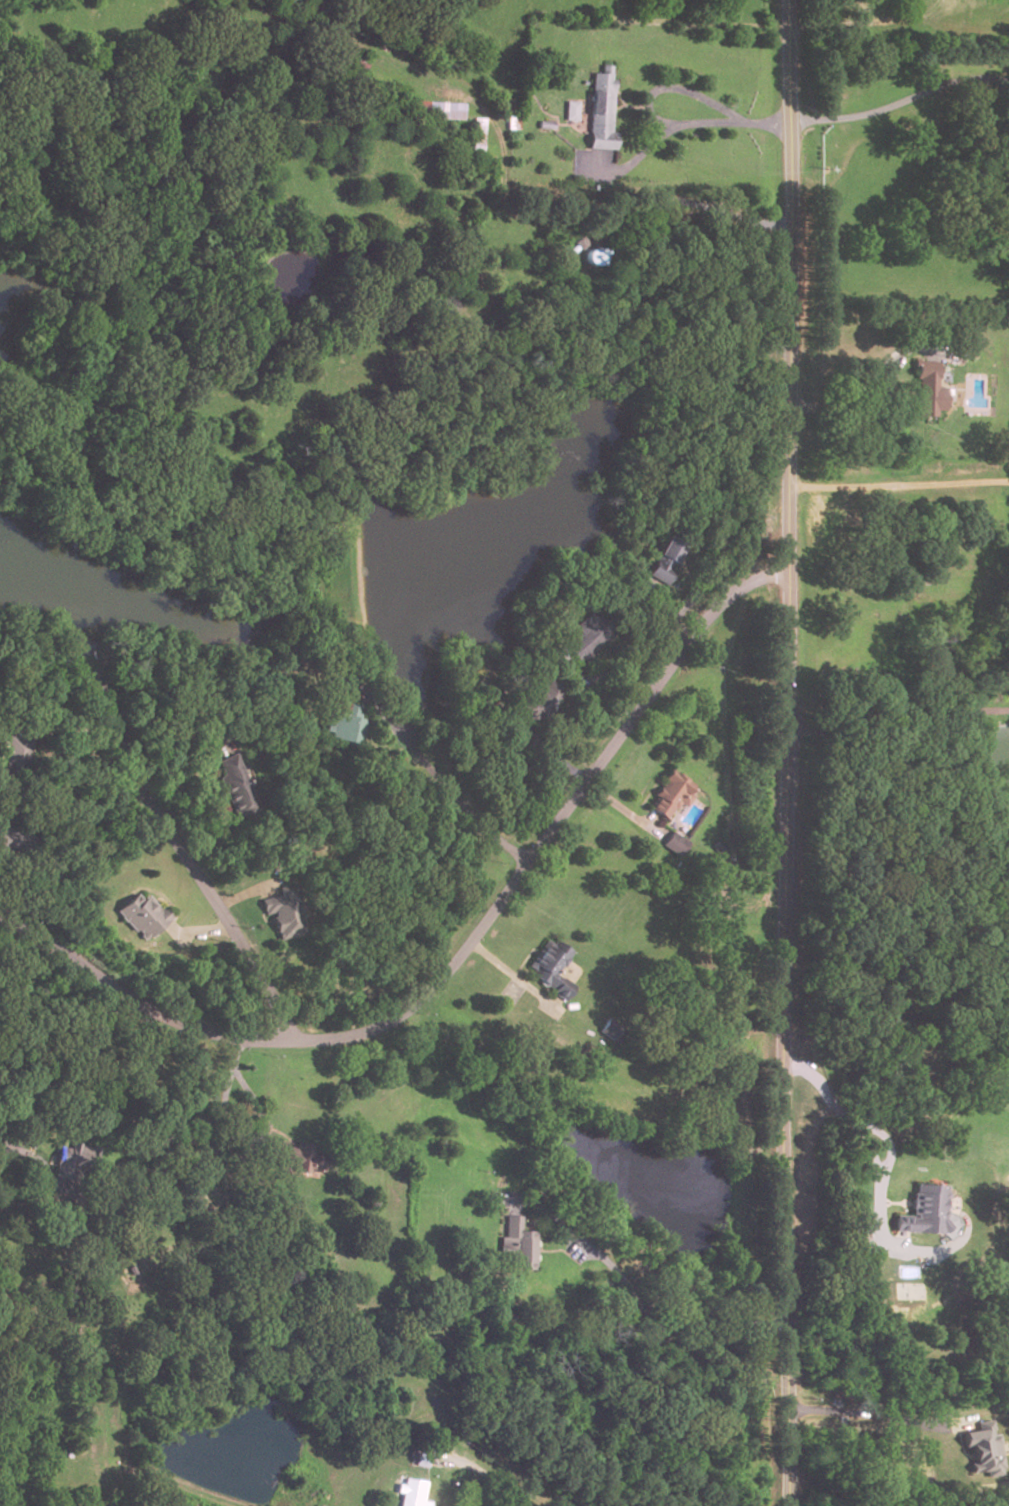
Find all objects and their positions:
building: (359, 63)
road: (673, 90)
road: (900, 103)
road: (628, 107)
road: (617, 108)
building: (431, 111)
building: (567, 113)
building: (596, 113)
building: (509, 124)
road: (676, 126)
building: (542, 127)
building: (473, 140)
building: (926, 389)
road: (863, 401)
road: (899, 478)
building: (663, 561)
road: (688, 604)
building: (587, 637)
road: (615, 667)
building: (345, 672)
building: (540, 699)
building: (343, 728)
road: (65, 729)
road: (787, 753)
building: (20, 755)
road: (902, 772)
road: (444, 782)
building: (238, 786)
building: (668, 792)
road: (619, 808)
building: (19, 837)
building: (671, 844)
road: (191, 869)
road: (244, 894)
road: (259, 908)
building: (288, 911)
building: (147, 916)
road: (200, 931)
road: (457, 957)
road: (522, 962)
building: (547, 967)
road: (510, 975)
parking lot: (510, 992)
building: (607, 1029)
road: (267, 1131)
road: (163, 1143)
road: (888, 1145)
road: (36, 1155)
building: (305, 1158)
building: (73, 1161)
road: (878, 1191)
road: (893, 1204)
building: (922, 1212)
building: (516, 1246)
road: (557, 1251)
road: (654, 1324)
road: (869, 1413)
building: (984, 1449)
building: (418, 1460)
road: (483, 1472)
building: (410, 1494)

